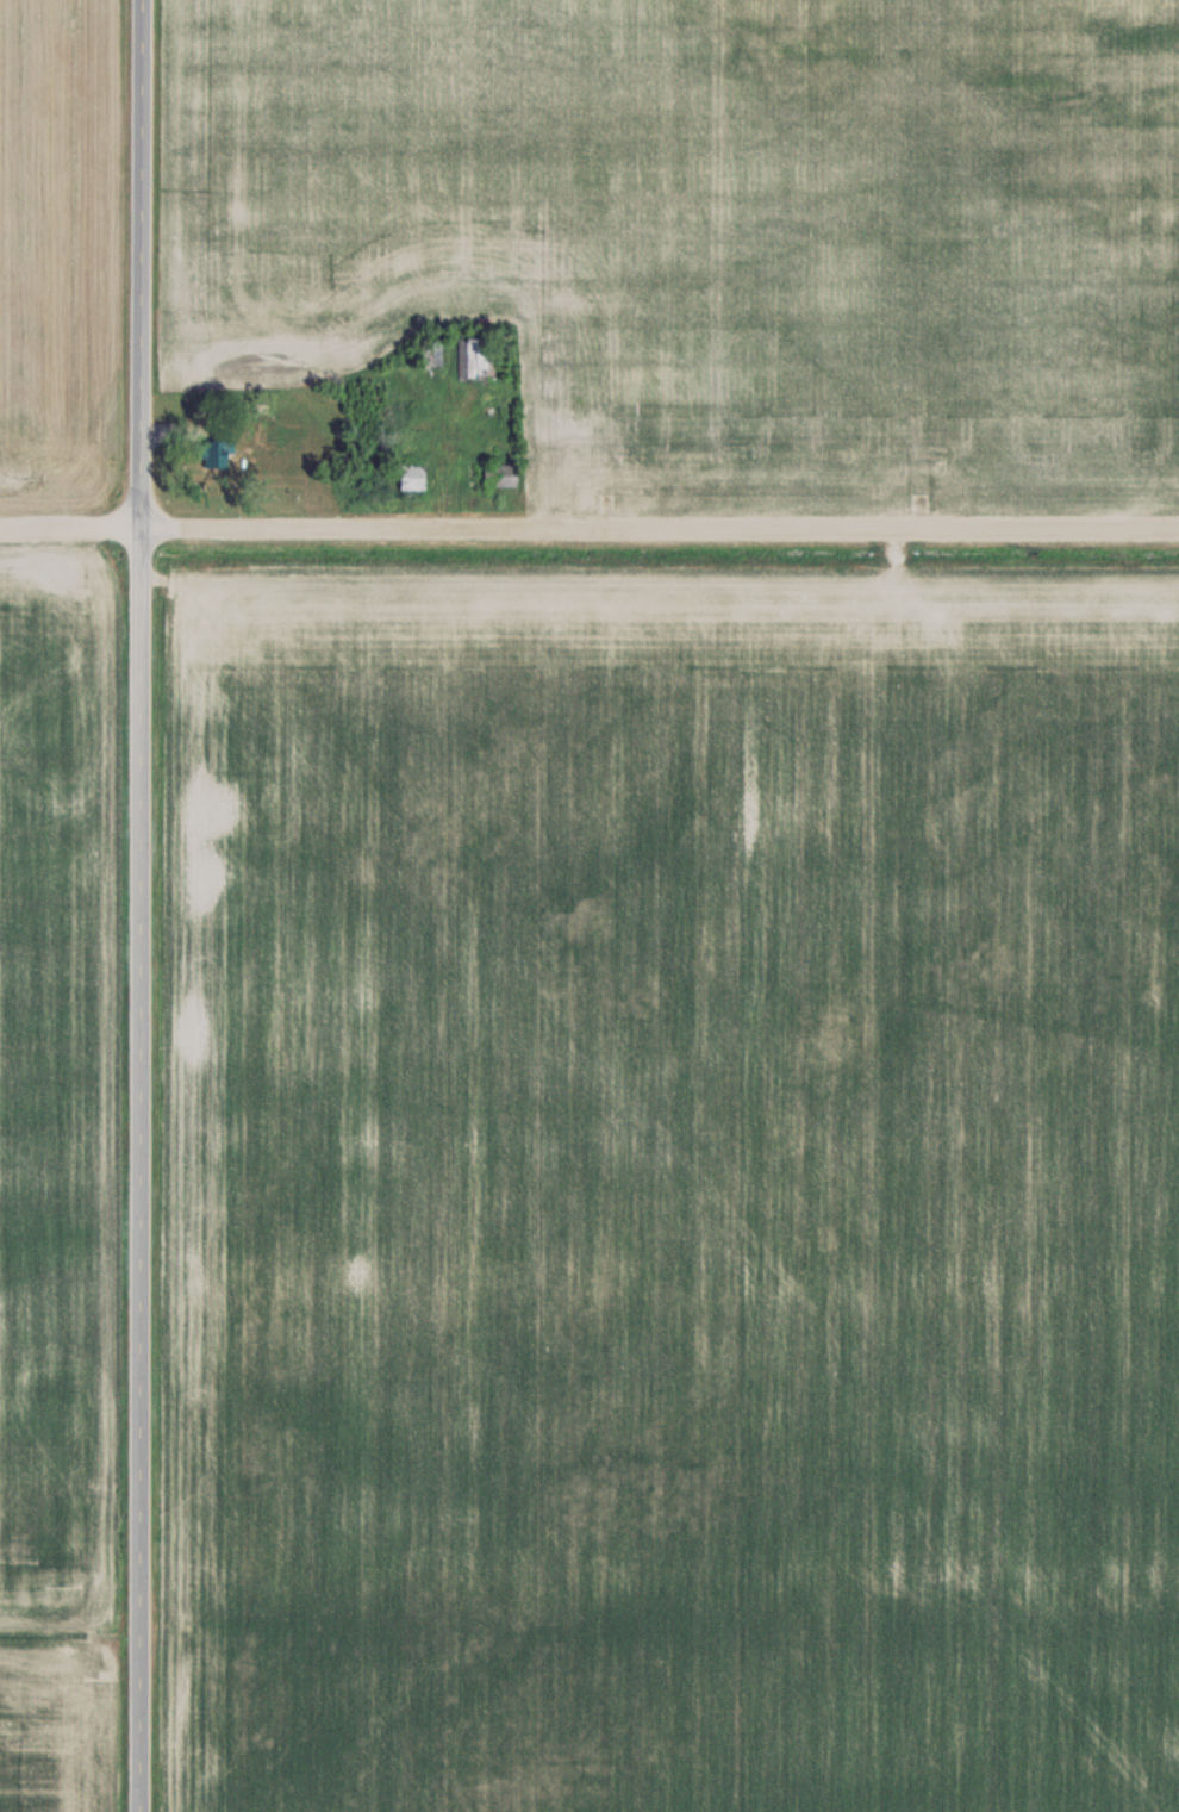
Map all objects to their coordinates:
building: (432, 353)
building: (474, 359)
building: (362, 407)
building: (214, 452)
building: (499, 474)
building: (412, 477)
road: (588, 527)
road: (139, 905)

